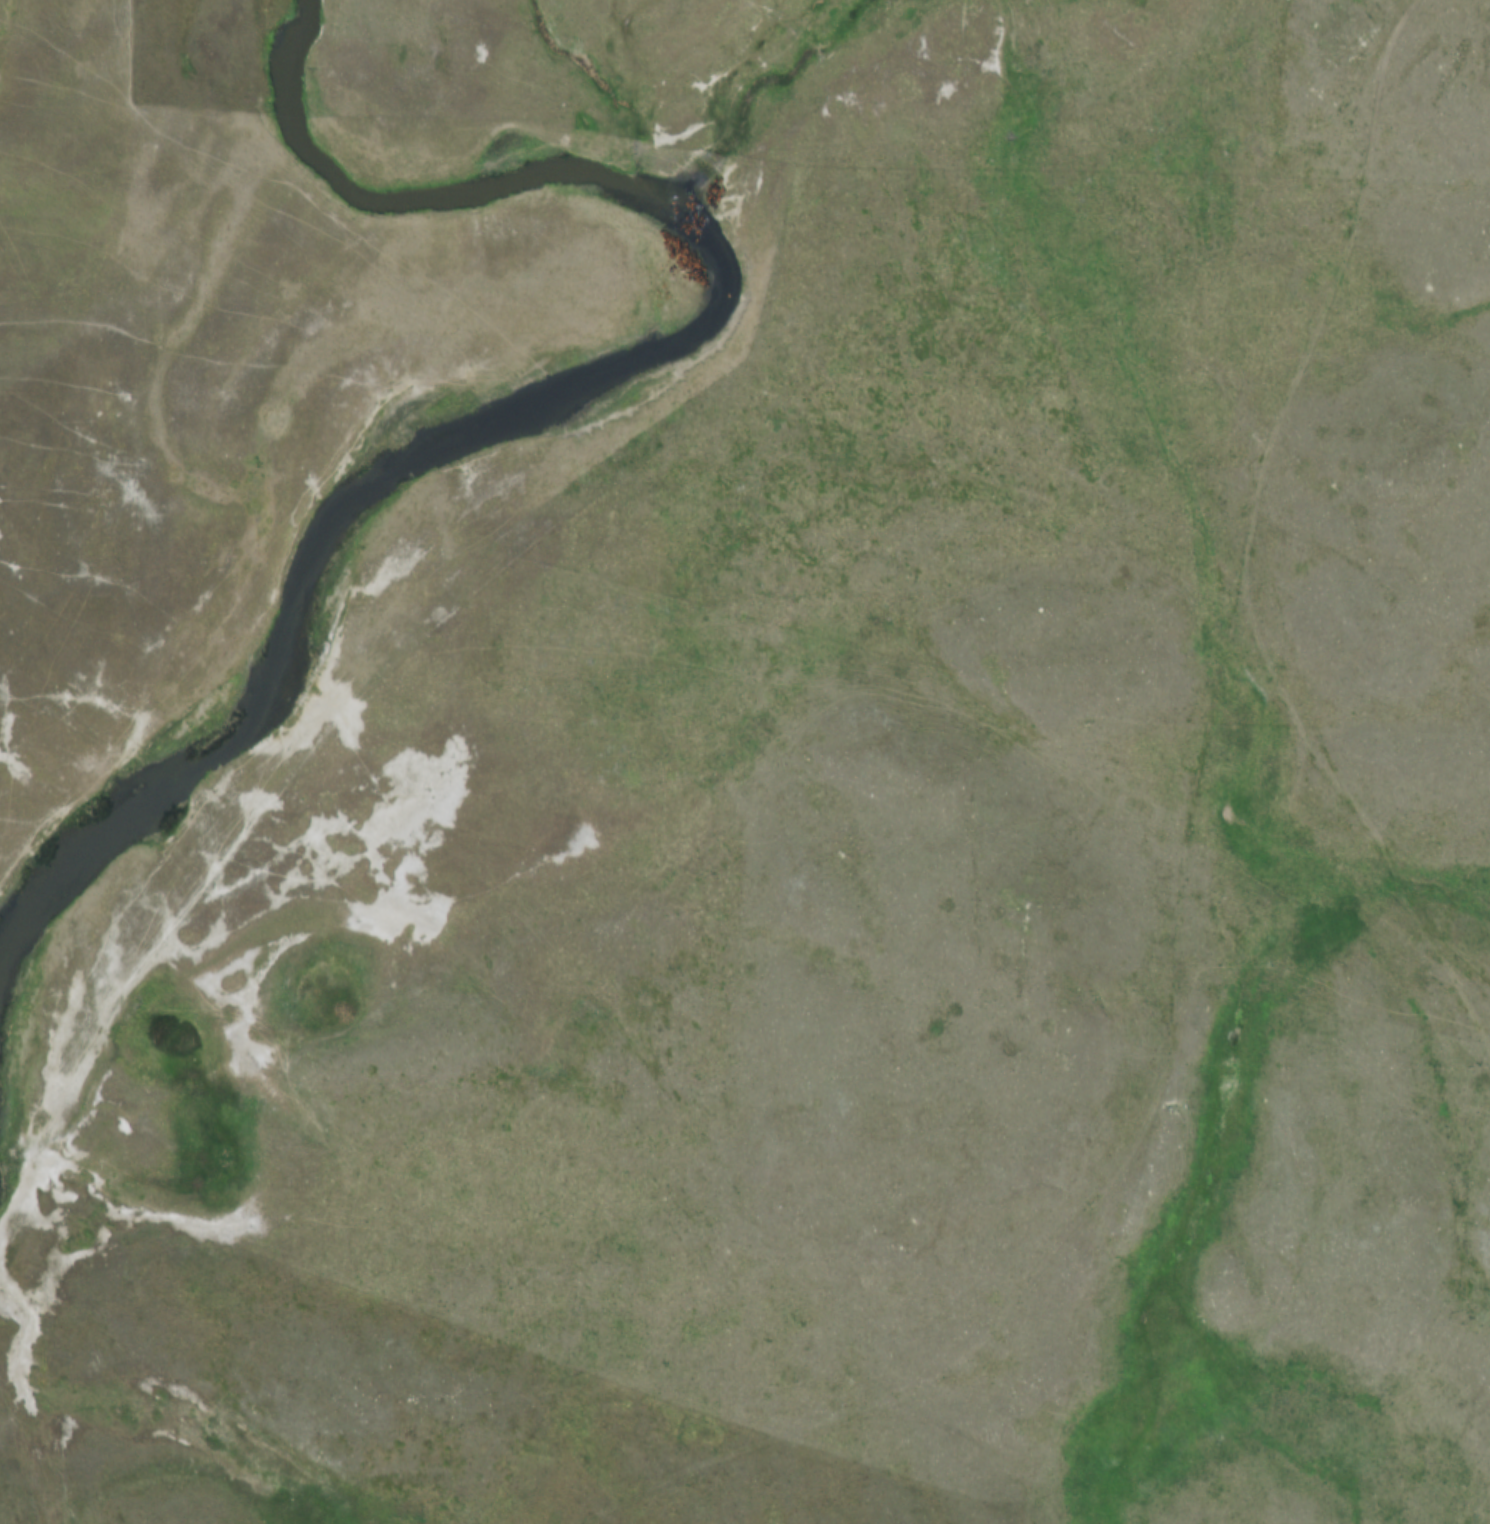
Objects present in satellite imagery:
road: (1293, 395)

